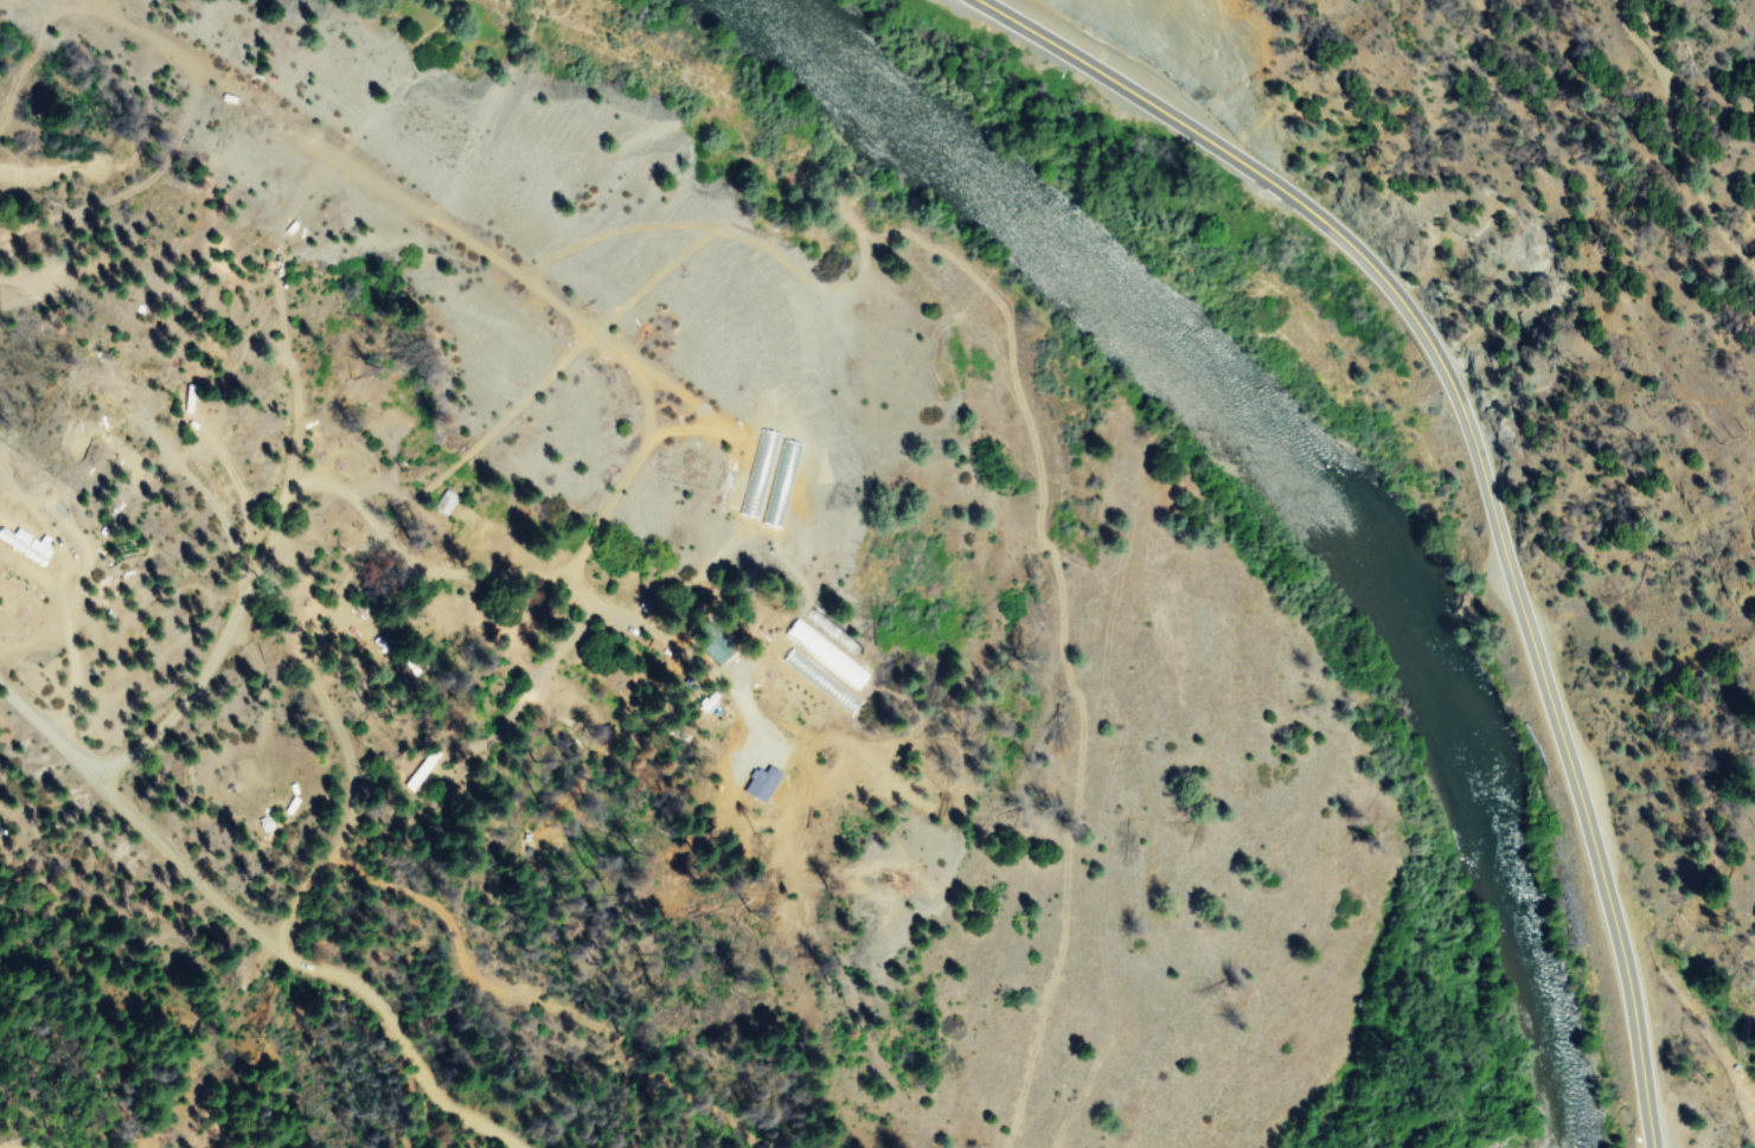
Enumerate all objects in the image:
road: (1664, 122)
power tower: (1721, 435)
road: (1482, 453)
river: (1301, 483)
building: (442, 502)
building: (21, 546)
road: (289, 627)
road: (565, 627)
road: (387, 663)
building: (821, 665)
building: (757, 783)
road: (404, 799)
road: (121, 857)
road: (399, 1032)

